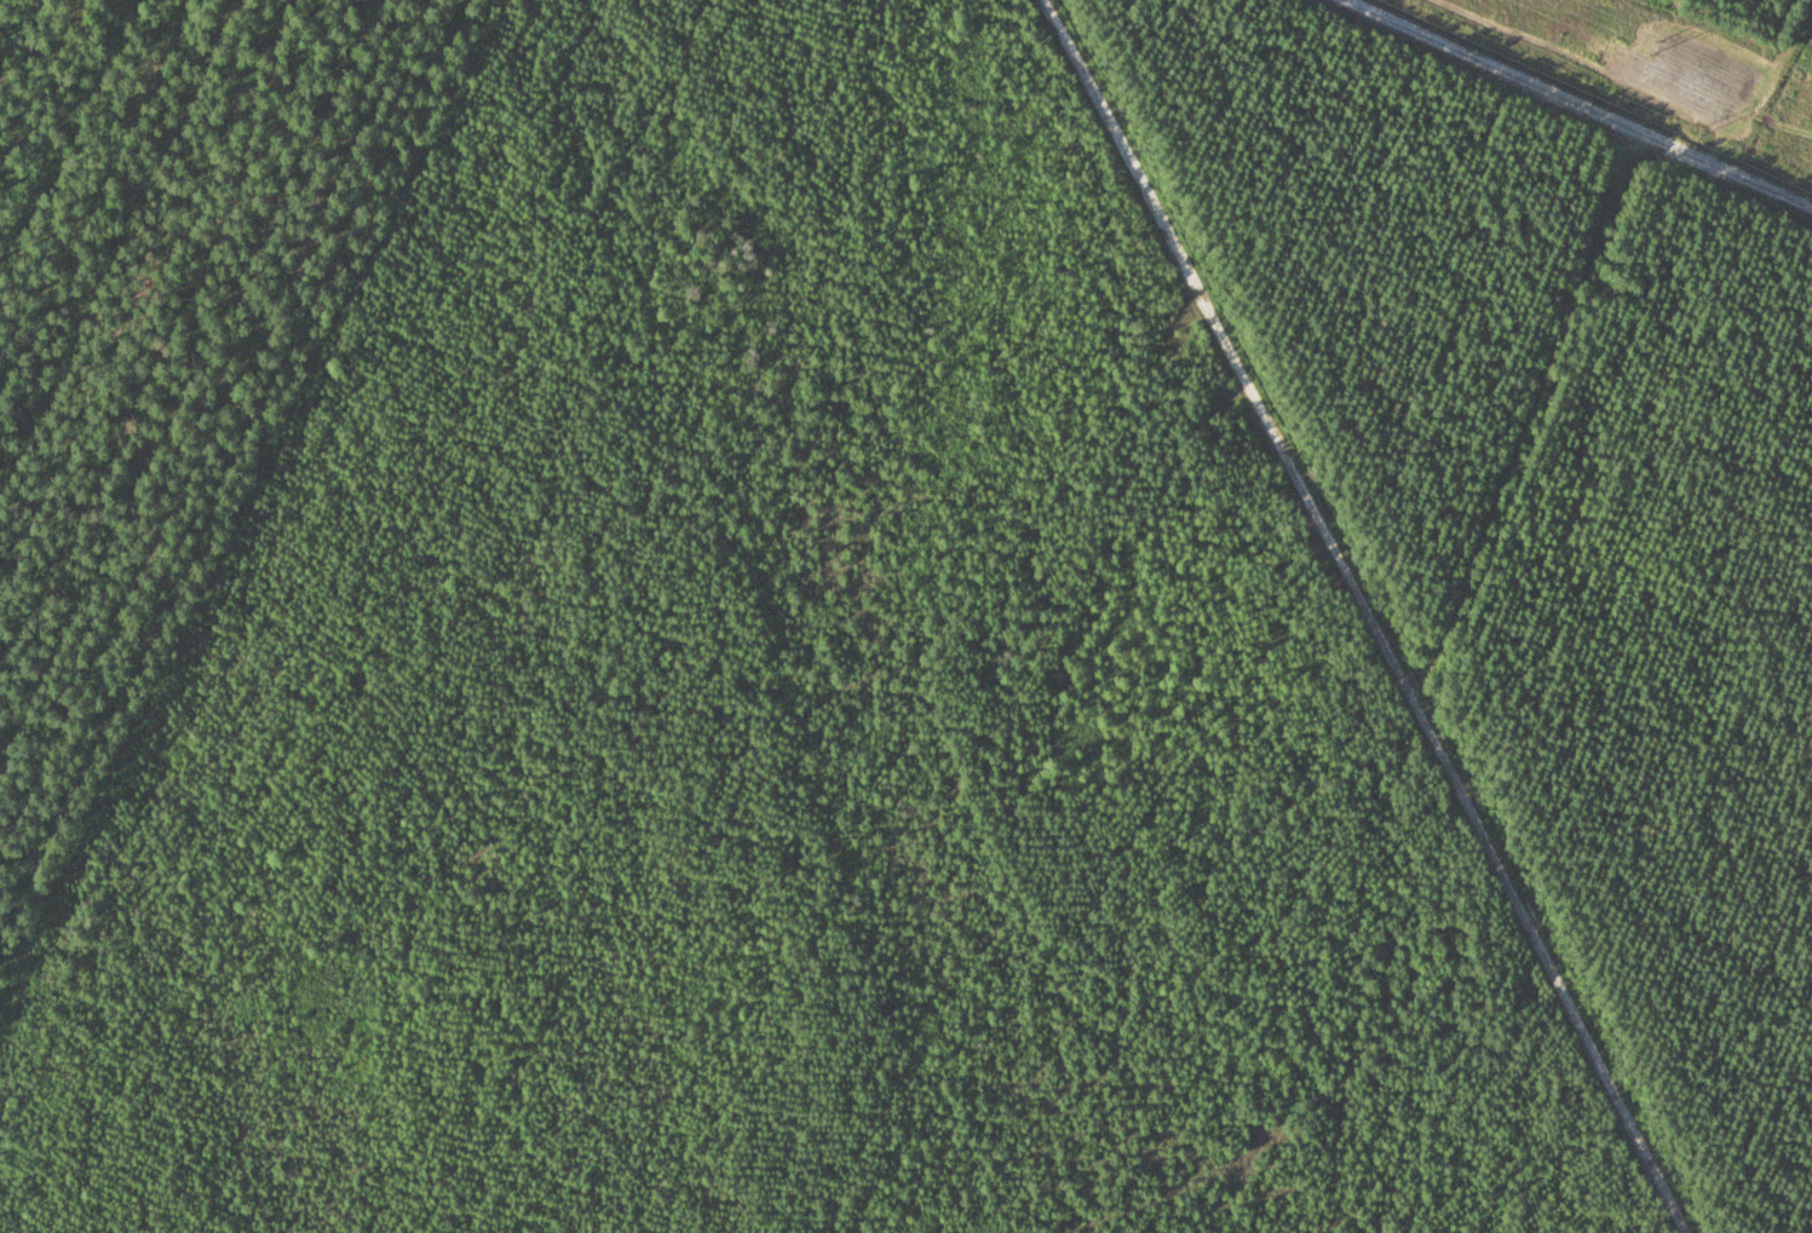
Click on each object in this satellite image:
power tower: (1643, 45)
power tower: (1701, 134)

